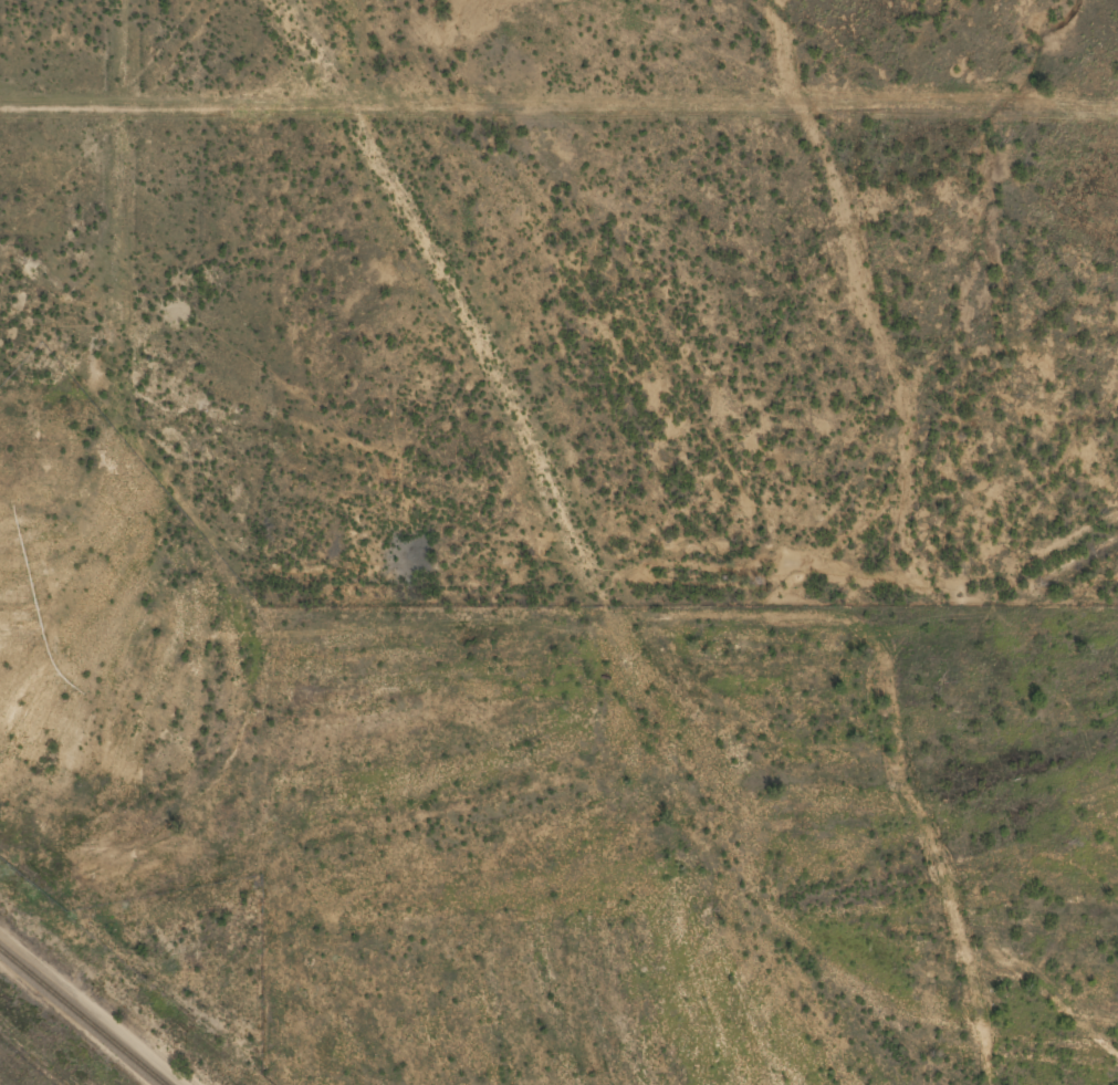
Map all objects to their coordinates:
railway: (82, 1016)

